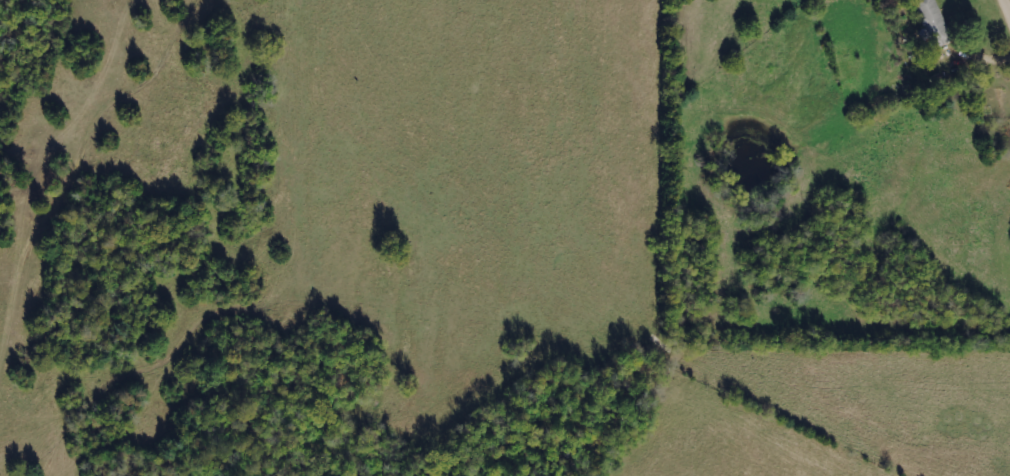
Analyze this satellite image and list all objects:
building: (932, 22)

